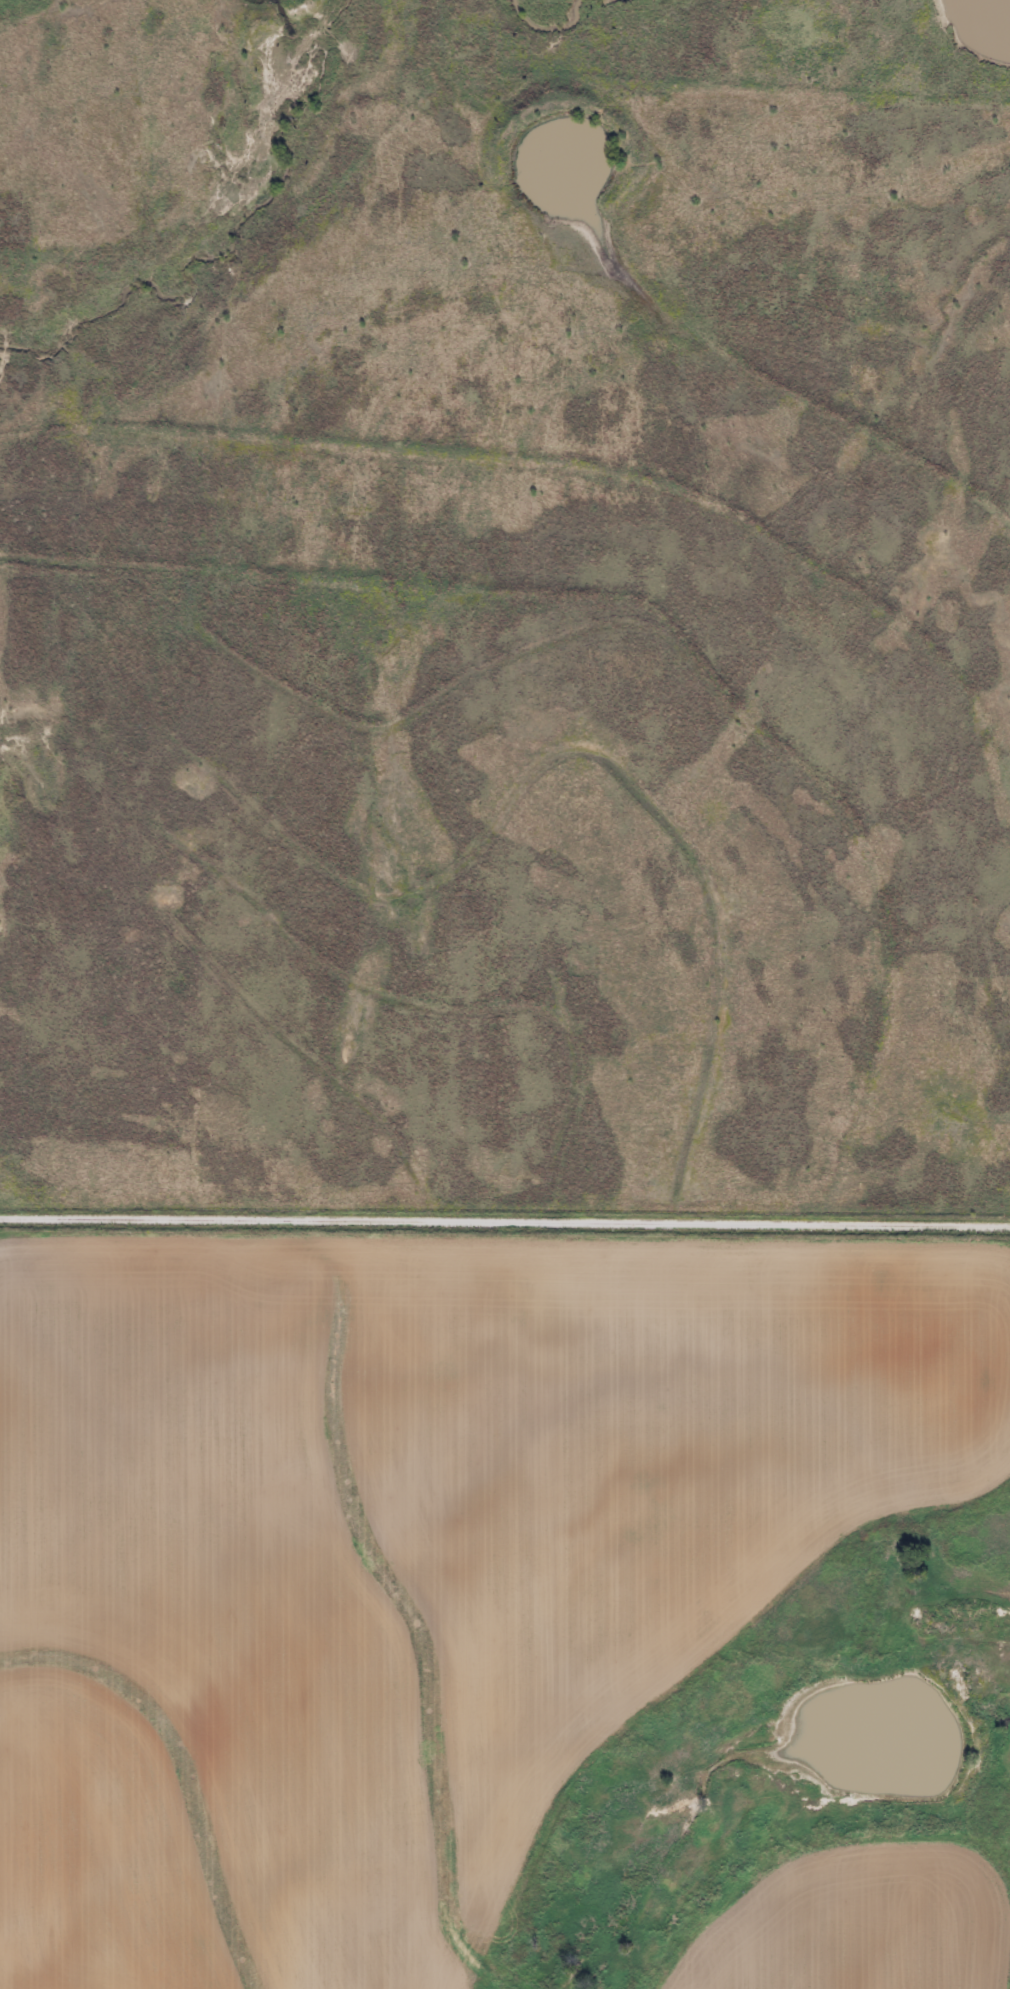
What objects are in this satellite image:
road: (505, 1223)

